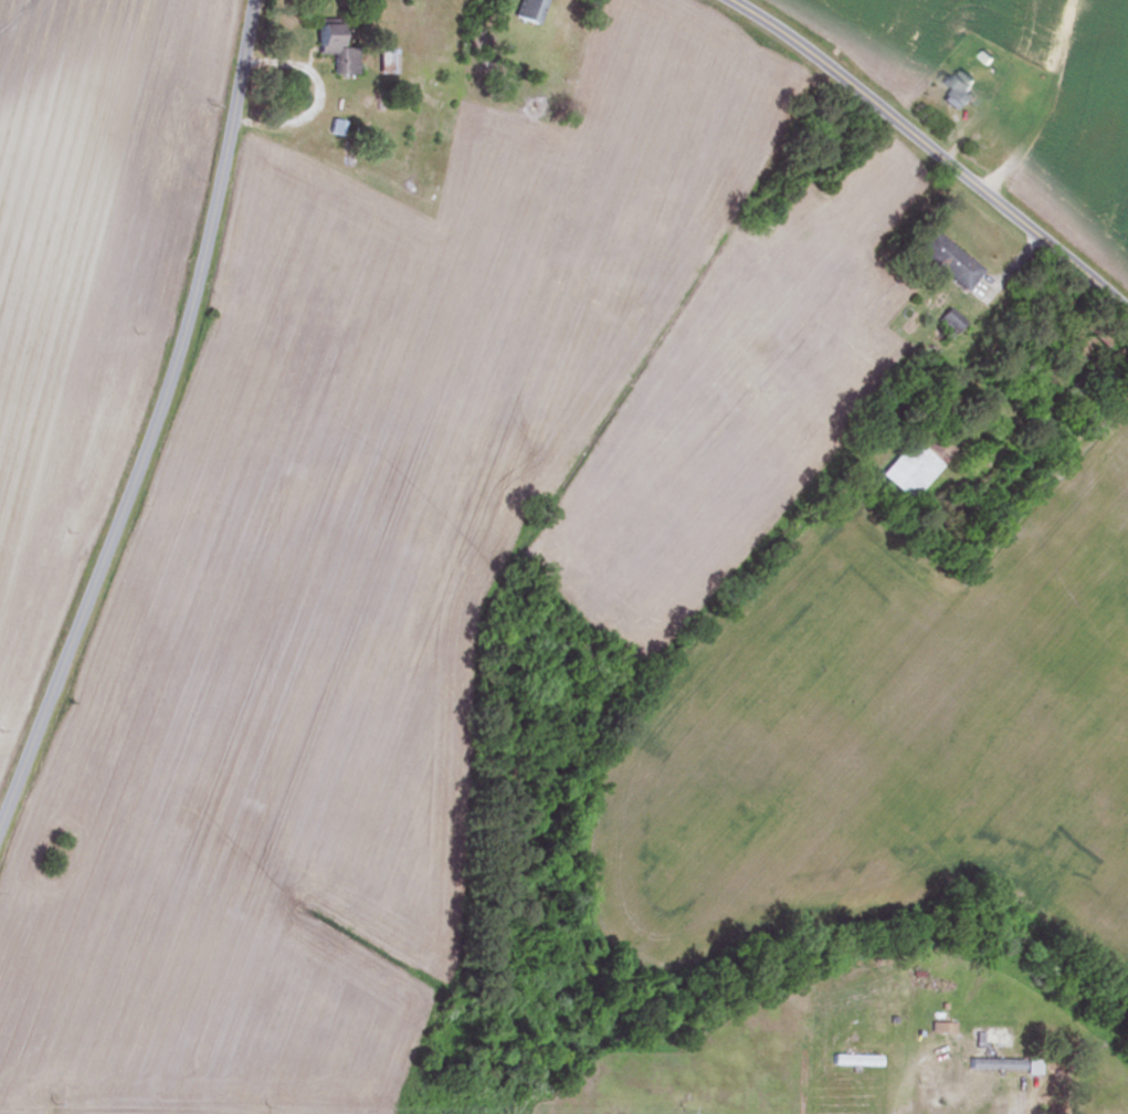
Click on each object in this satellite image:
building: (527, 11)
building: (333, 50)
building: (958, 90)
road: (930, 150)
building: (947, 259)
building: (950, 319)
road: (156, 423)
building: (915, 461)
building: (874, 989)
building: (1024, 1024)
building: (941, 1028)
building: (854, 1060)
building: (994, 1063)

